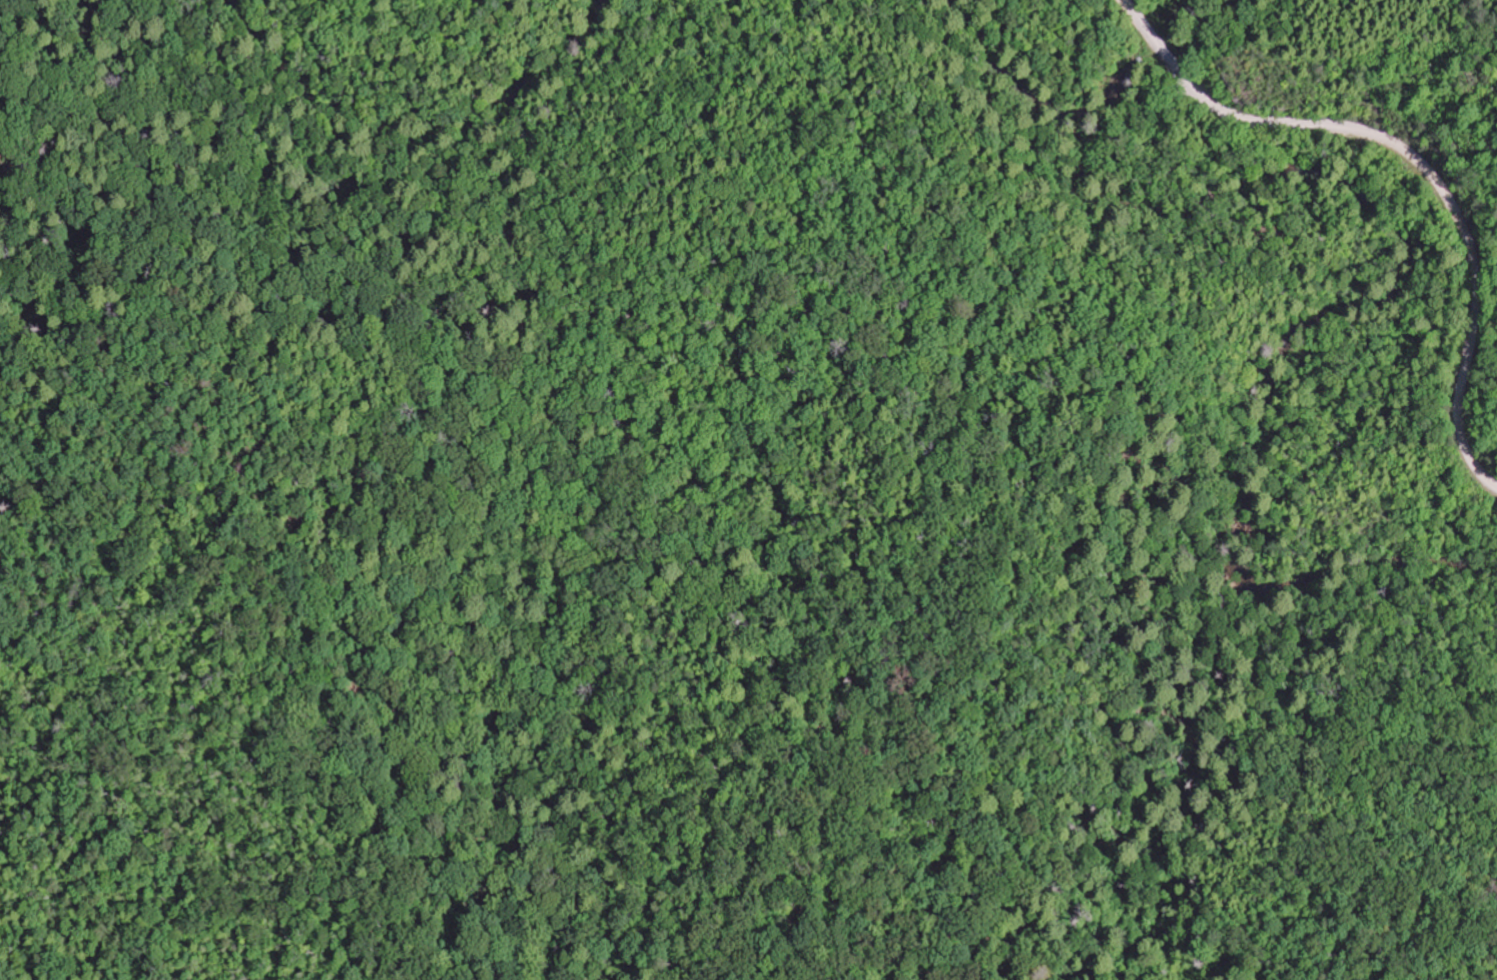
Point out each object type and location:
road: (1183, 144)
road: (410, 160)
road: (1416, 160)
road: (1341, 280)

